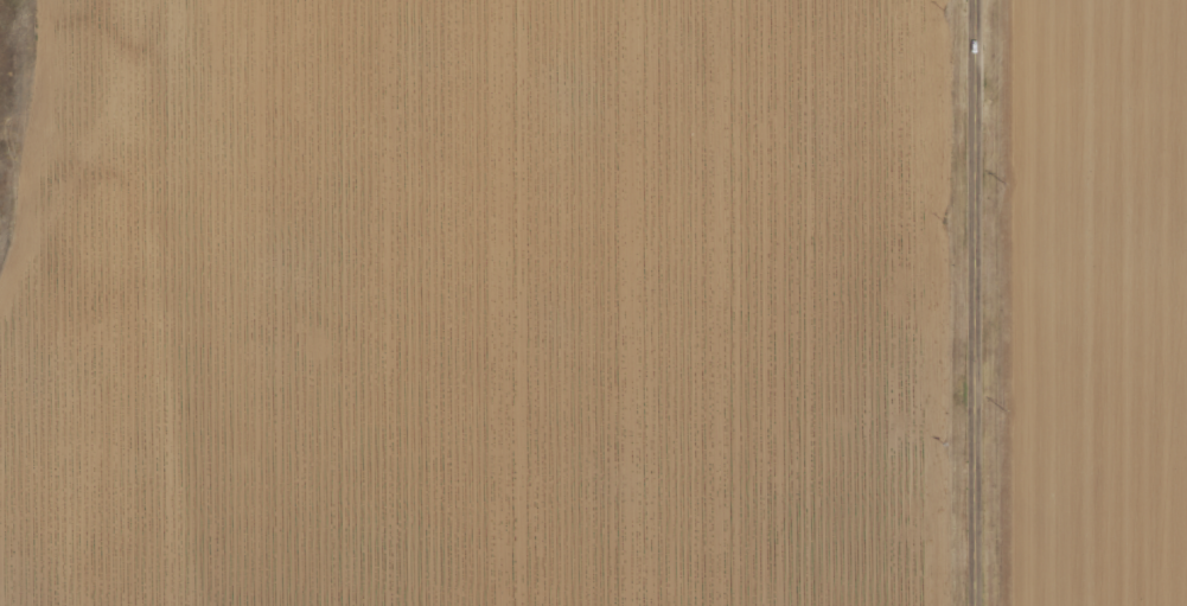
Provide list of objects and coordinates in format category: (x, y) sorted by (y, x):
road: (970, 302)

